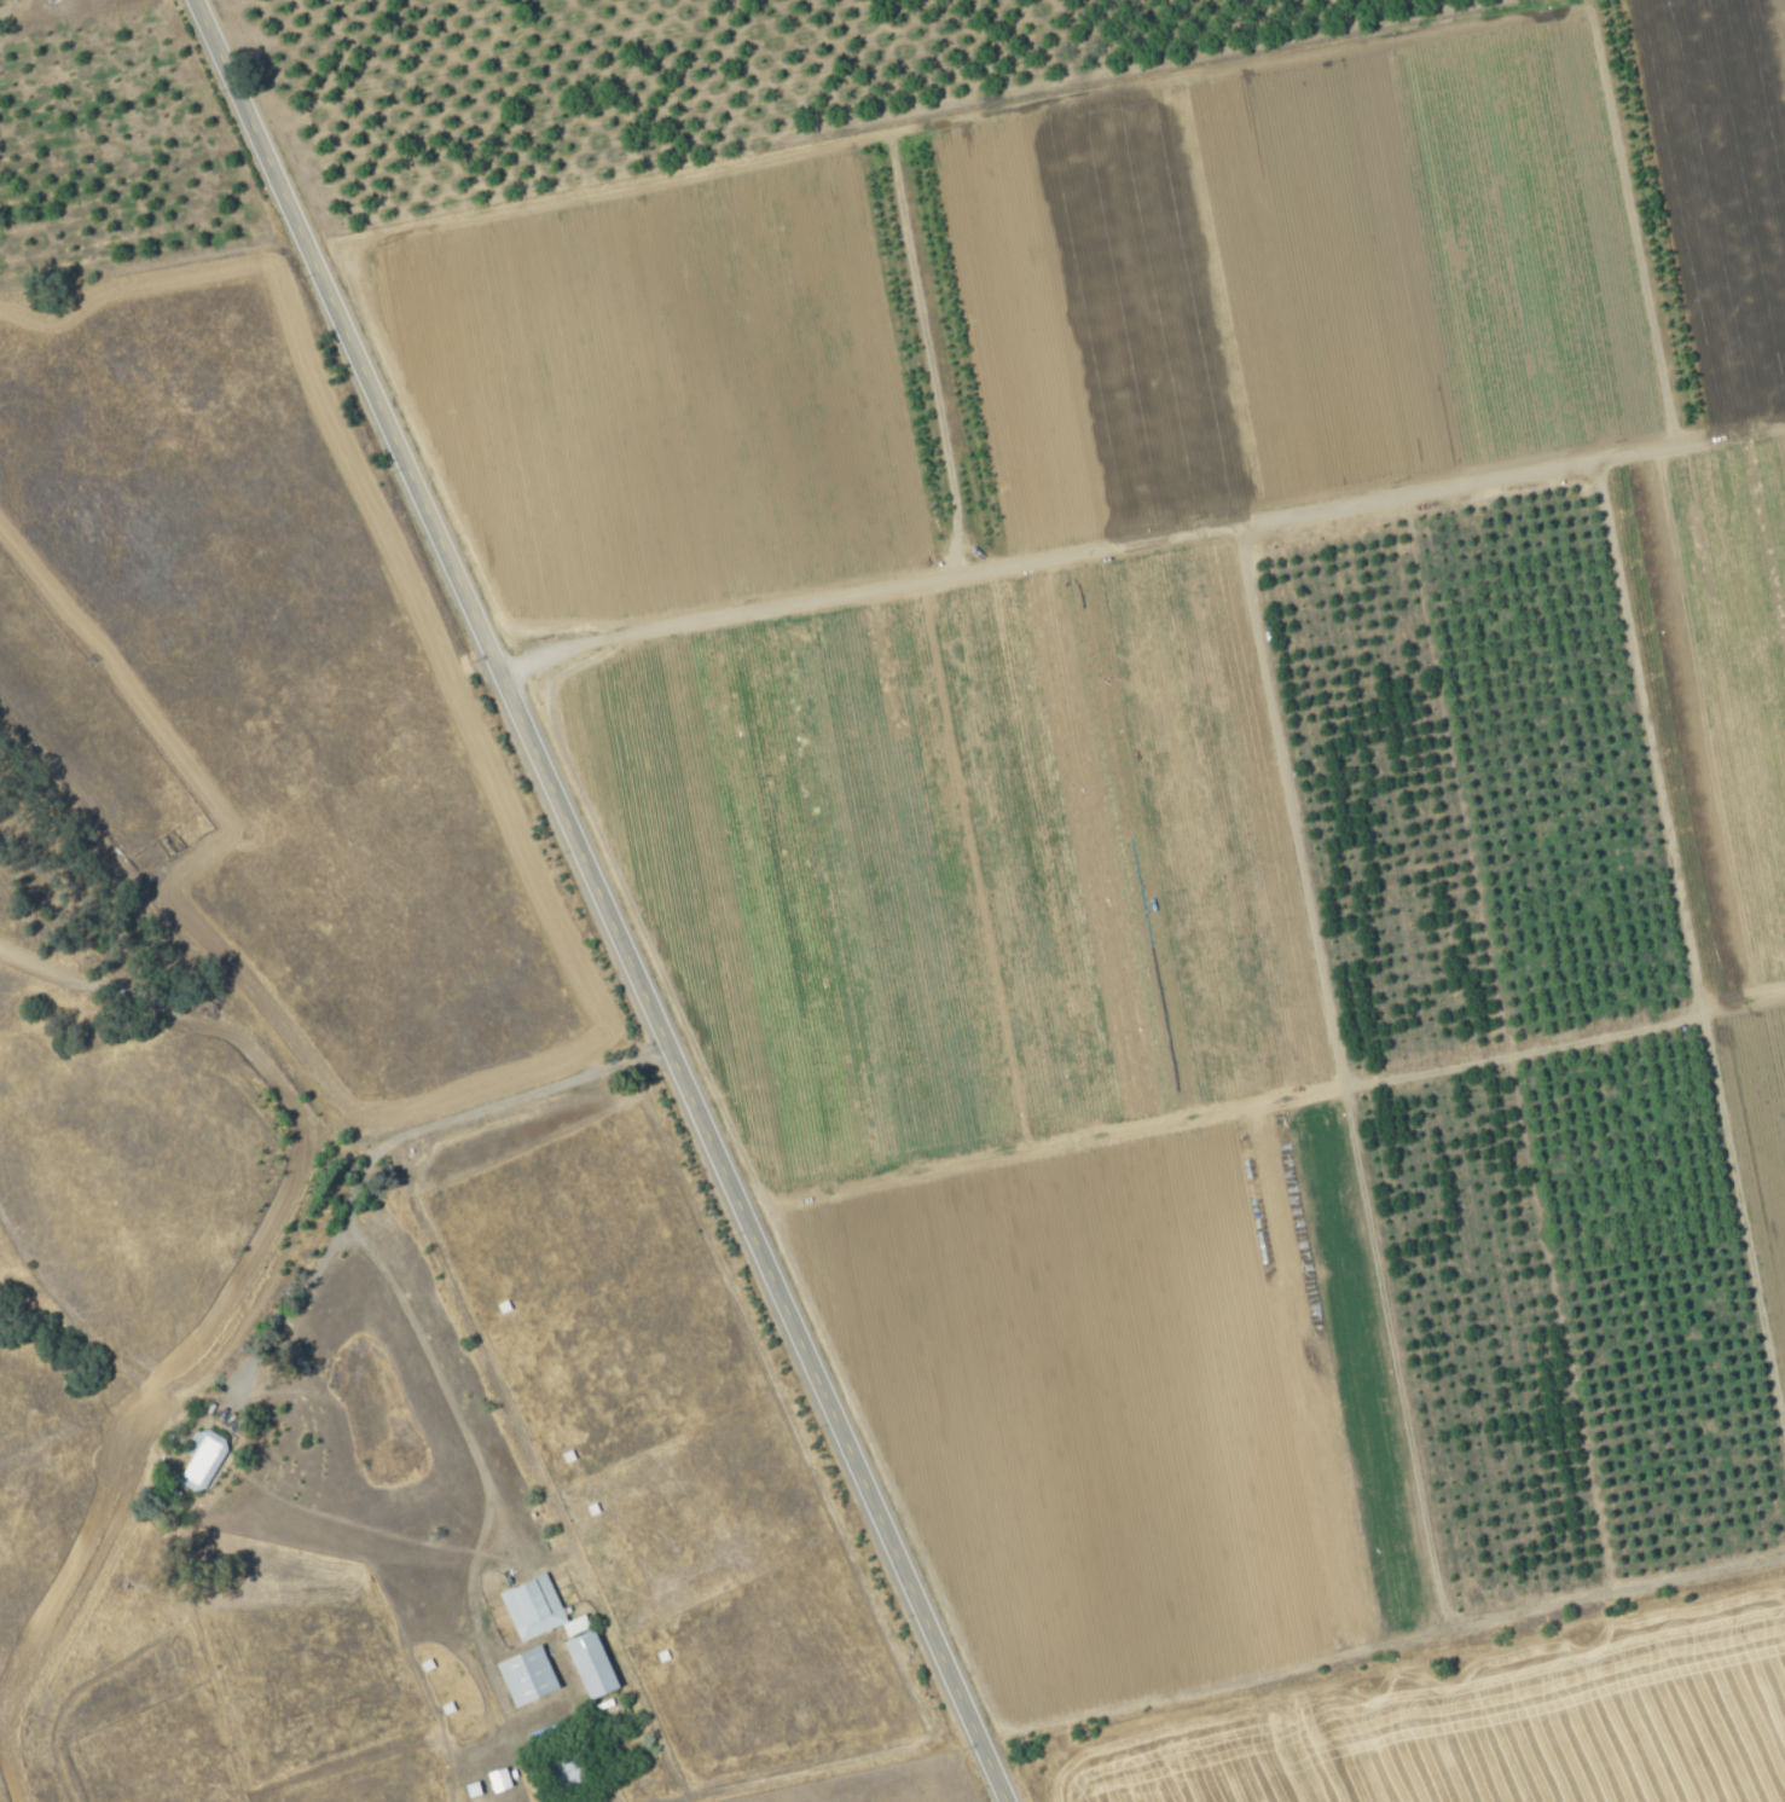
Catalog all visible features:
road: (1142, 537)
road: (607, 899)
road: (388, 1137)
road: (458, 1412)
building: (201, 1458)
building: (533, 1605)
building: (593, 1662)
building: (529, 1674)

